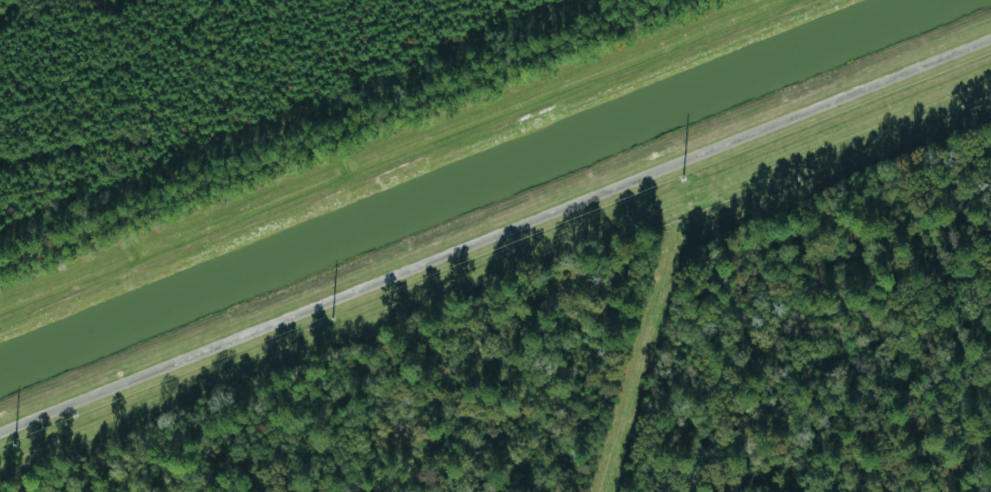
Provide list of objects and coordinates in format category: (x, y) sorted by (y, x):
road: (495, 235)

